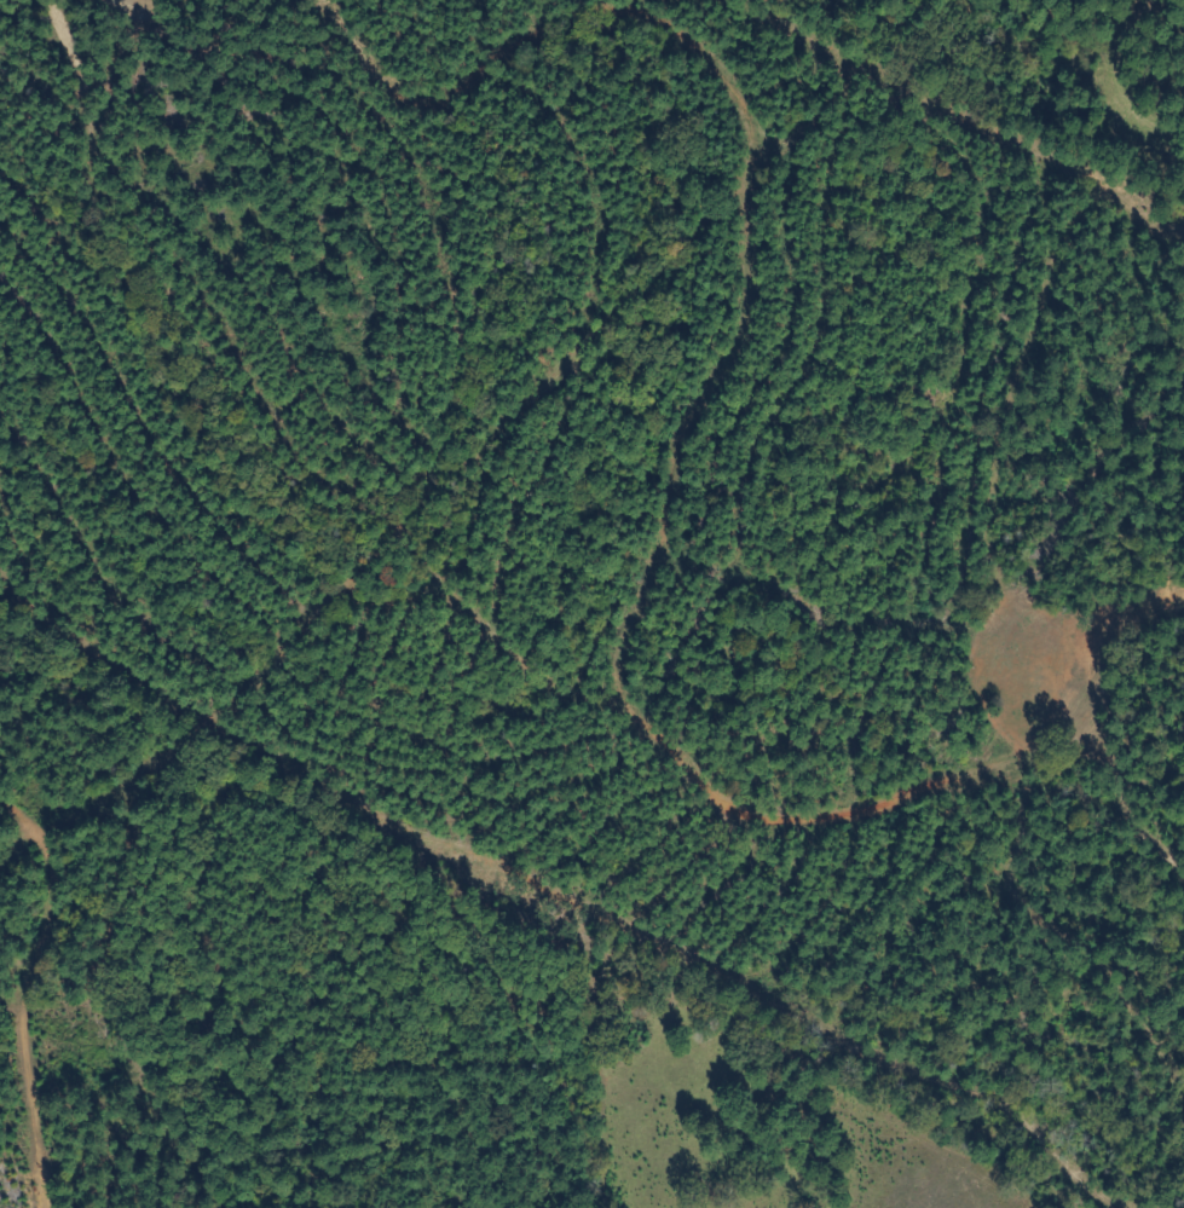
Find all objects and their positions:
road: (71, 1123)

